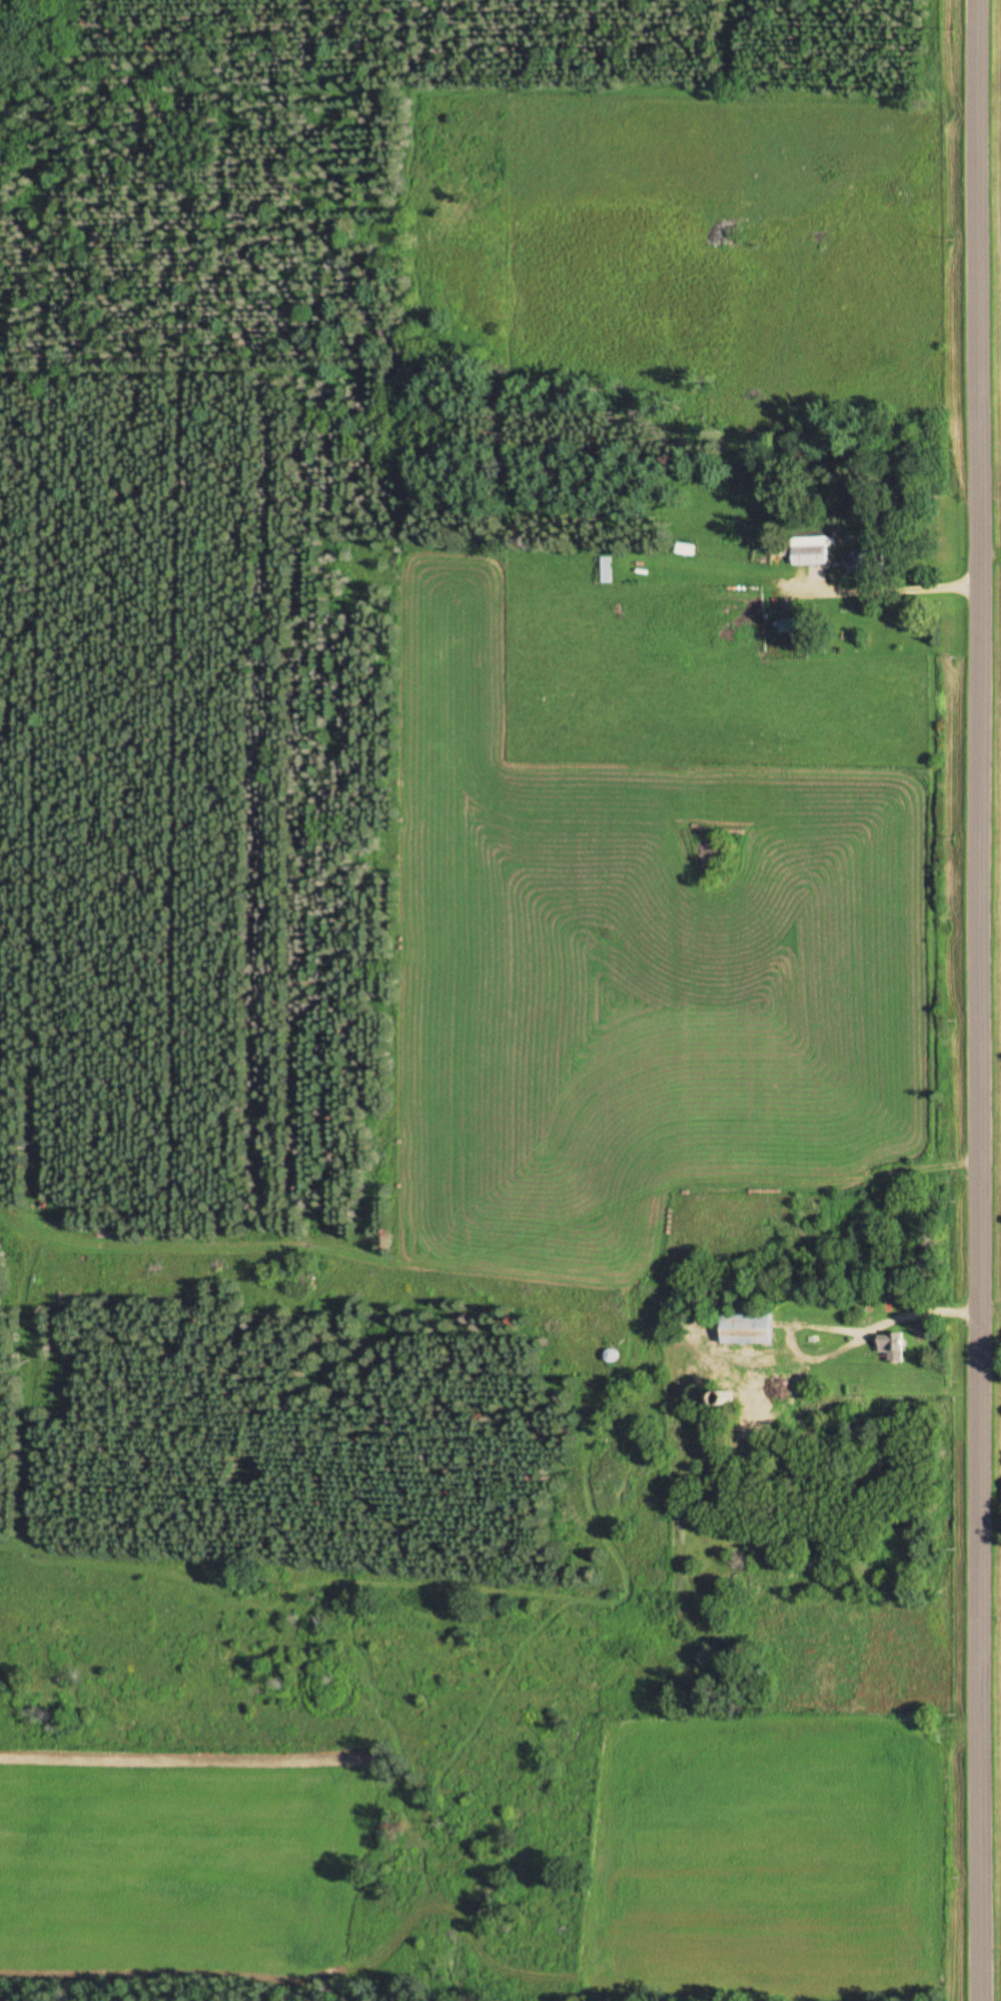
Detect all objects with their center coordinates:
building: (684, 550)
building: (809, 556)
building: (862, 562)
building: (605, 571)
building: (788, 627)
road: (970, 1000)
building: (745, 1329)
building: (891, 1348)
building: (751, 1399)

